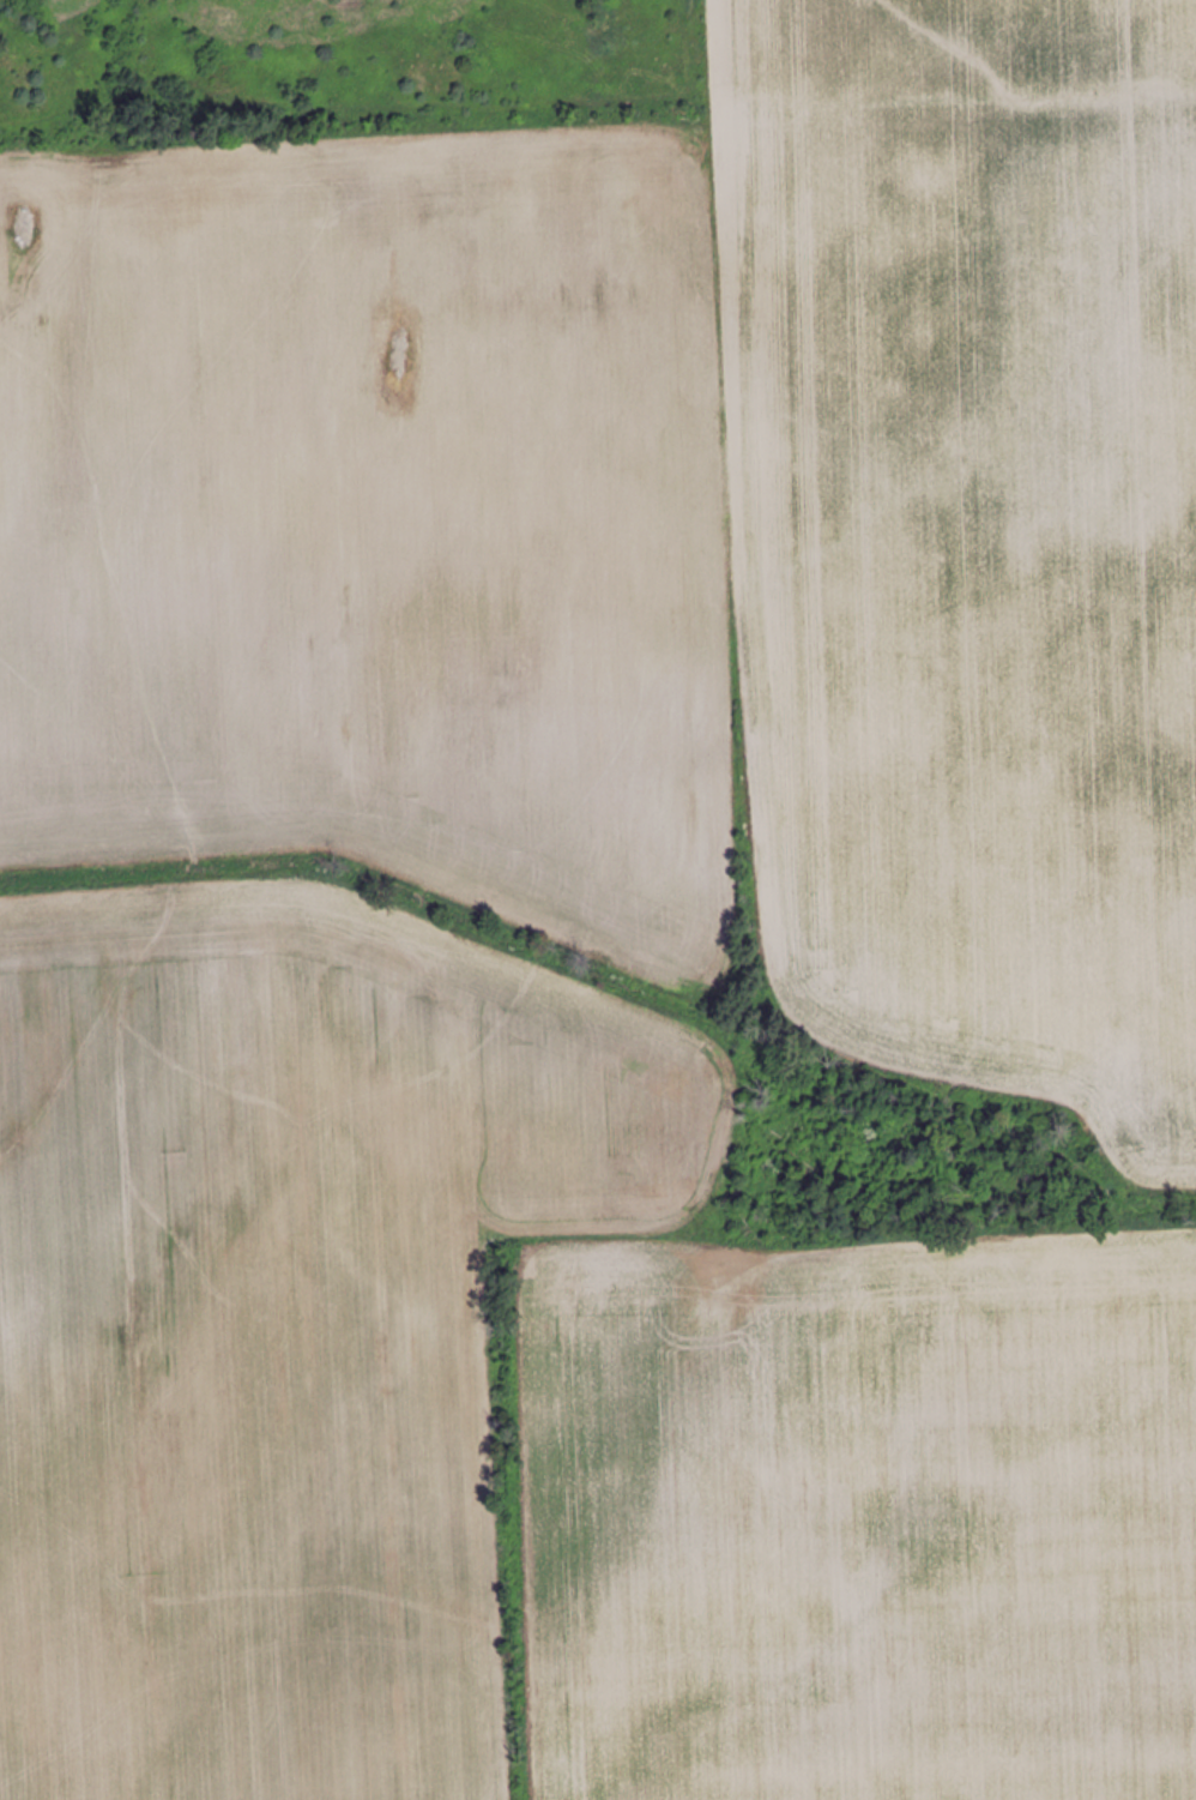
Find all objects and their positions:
crop: (657, 507)

